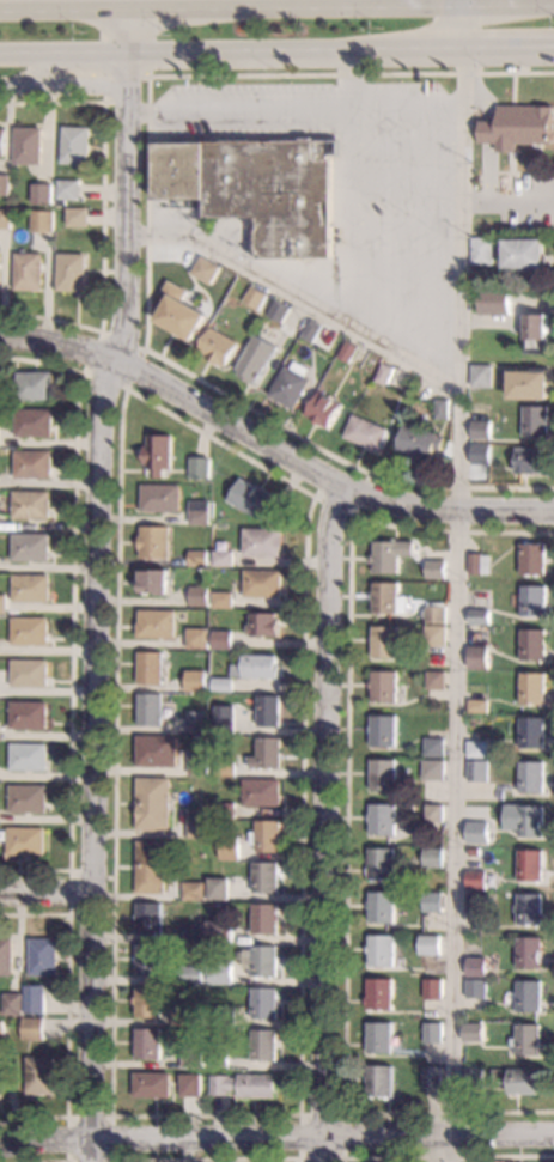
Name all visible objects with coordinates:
road: (547, 2)
road: (375, 4)
road: (440, 4)
road: (493, 4)
road: (276, 7)
street lamp: (379, 26)
road: (124, 28)
street lamp: (168, 35)
road: (339, 53)
road: (95, 56)
road: (32, 57)
building: (511, 67)
street lamp: (273, 68)
street lamp: (486, 69)
road: (148, 71)
road: (38, 72)
road: (351, 72)
road: (124, 78)
road: (351, 78)
road: (72, 84)
road: (6, 86)
road: (512, 89)
road: (406, 103)
road: (126, 105)
road: (238, 105)
road: (321, 120)
building: (519, 127)
street lamp: (408, 133)
road: (241, 136)
road: (485, 136)
building: (2, 142)
road: (402, 142)
building: (29, 146)
building: (77, 146)
road: (537, 158)
road: (509, 163)
road: (524, 174)
building: (5, 178)
road: (495, 182)
road: (402, 183)
parking lot: (360, 185)
road: (507, 188)
building: (258, 189)
building: (68, 191)
building: (44, 194)
road: (507, 201)
parking lot: (525, 202)
road: (147, 212)
road: (102, 214)
road: (343, 214)
building: (78, 217)
street lamp: (408, 217)
building: (5, 219)
building: (41, 221)
street lamp: (140, 223)
road: (402, 223)
building: (481, 250)
building: (524, 253)
road: (402, 263)
building: (206, 270)
building: (28, 272)
building: (71, 272)
building: (255, 298)
road: (296, 298)
building: (494, 302)
road: (402, 305)
building: (278, 311)
building: (179, 312)
building: (311, 330)
building: (536, 333)
road: (56, 342)
building: (339, 342)
building: (218, 347)
building: (347, 351)
road: (425, 352)
building: (255, 359)
road: (81, 370)
building: (384, 375)
building: (481, 376)
building: (290, 384)
building: (32, 385)
building: (529, 385)
building: (442, 409)
building: (323, 410)
building: (536, 421)
building: (34, 422)
building: (480, 430)
building: (365, 433)
building: (419, 443)
building: (480, 455)
building: (158, 456)
road: (335, 460)
building: (531, 461)
road: (251, 463)
building: (34, 464)
building: (201, 468)
road: (319, 479)
building: (160, 498)
building: (257, 500)
building: (32, 504)
building: (200, 512)
road: (353, 516)
building: (156, 542)
building: (264, 542)
building: (31, 547)
building: (390, 555)
building: (199, 558)
building: (225, 558)
building: (532, 559)
building: (479, 565)
building: (436, 570)
building: (156, 582)
building: (263, 583)
road: (461, 584)
building: (32, 588)
building: (200, 596)
building: (386, 598)
building: (225, 600)
building: (534, 601)
building: (4, 604)
road: (72, 614)
building: (436, 614)
building: (479, 617)
building: (158, 623)
building: (266, 625)
building: (30, 631)
road: (95, 633)
building: (436, 637)
building: (197, 638)
building: (224, 639)
building: (385, 641)
building: (534, 645)
building: (477, 658)
building: (258, 667)
building: (151, 668)
building: (30, 673)
building: (436, 681)
building: (199, 685)
building: (225, 685)
building: (384, 687)
building: (532, 688)
building: (477, 706)
building: (151, 708)
building: (270, 711)
building: (30, 716)
building: (226, 718)
building: (197, 722)
building: (383, 731)
building: (532, 732)
building: (434, 748)
building: (476, 749)
building: (157, 752)
building: (269, 753)
building: (29, 756)
building: (197, 765)
building: (226, 769)
building: (433, 769)
building: (477, 771)
building: (383, 775)
building: (531, 777)
building: (262, 792)
building: (29, 798)
building: (153, 803)
building: (412, 808)
building: (226, 810)
building: (434, 814)
road: (346, 820)
building: (383, 820)
building: (524, 820)
road: (325, 825)
building: (197, 828)
building: (477, 833)
building: (267, 835)
building: (26, 841)
building: (230, 848)
building: (474, 852)
building: (432, 858)
building: (381, 864)
building: (530, 865)
building: (151, 868)
road: (69, 871)
building: (267, 877)
building: (476, 880)
building: (219, 889)
building: (191, 890)
road: (45, 895)
building: (432, 902)
building: (475, 902)
building: (382, 907)
building: (530, 908)
building: (150, 918)
building: (266, 918)
building: (221, 932)
building: (194, 933)
building: (430, 945)
building: (381, 950)
building: (529, 953)
building: (7, 956)
building: (44, 956)
building: (148, 960)
building: (264, 961)
building: (476, 967)
building: (221, 972)
building: (190, 975)
building: (476, 988)
building: (432, 990)
building: (379, 994)
building: (529, 996)
building: (36, 999)
building: (148, 1002)
building: (264, 1003)
building: (14, 1004)
road: (68, 1015)
building: (226, 1016)
building: (182, 1018)
building: (34, 1029)
building: (473, 1032)
building: (2, 1033)
building: (432, 1033)
building: (379, 1038)
building: (526, 1040)
building: (148, 1044)
building: (264, 1046)
building: (191, 1058)
building: (219, 1060)
building: (41, 1075)
building: (431, 1078)
building: (473, 1078)
building: (379, 1082)
building: (523, 1082)
building: (152, 1085)
building: (244, 1085)
building: (190, 1088)
building: (1, 1090)
road: (110, 1117)
road: (276, 1137)
road: (205, 1158)
road: (298, 1158)
road: (446, 1158)
road: (50, 1161)

